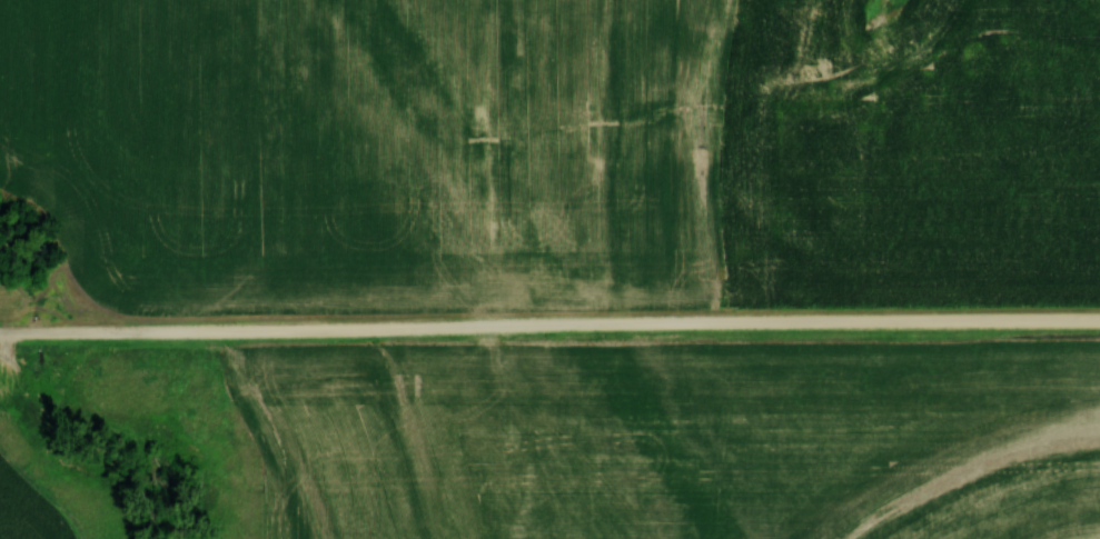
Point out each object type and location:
crop: (399, 149)
road: (549, 325)

